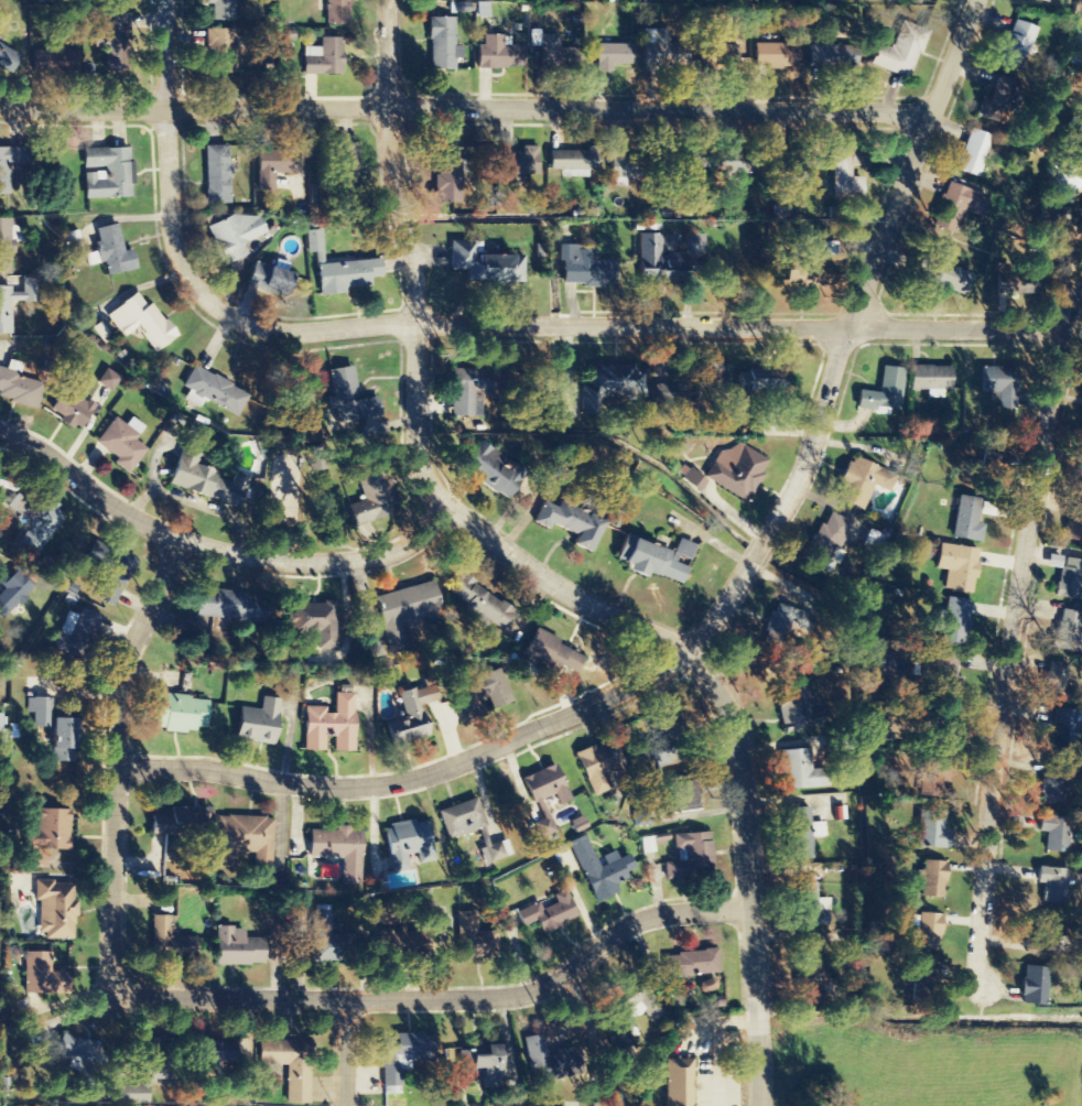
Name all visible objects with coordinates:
building: (1043, 0)
building: (221, 9)
building: (337, 12)
building: (117, 32)
building: (443, 44)
building: (1016, 46)
building: (664, 50)
building: (727, 50)
building: (221, 51)
building: (900, 51)
building: (499, 53)
building: (556, 54)
building: (614, 56)
building: (777, 56)
building: (324, 57)
building: (832, 57)
building: (8, 59)
building: (55, 61)
building: (996, 101)
road: (464, 108)
building: (1076, 132)
building: (974, 153)
building: (574, 162)
building: (521, 163)
building: (737, 163)
building: (10, 165)
building: (630, 166)
building: (273, 167)
building: (345, 167)
building: (447, 172)
building: (107, 173)
building: (217, 175)
building: (1067, 183)
building: (957, 206)
building: (1053, 223)
building: (235, 235)
building: (315, 245)
building: (6, 247)
building: (111, 252)
building: (670, 257)
building: (485, 265)
building: (584, 268)
building: (346, 275)
building: (949, 279)
building: (269, 280)
building: (1016, 286)
building: (17, 301)
building: (141, 322)
road: (479, 323)
building: (711, 377)
building: (107, 380)
building: (930, 380)
building: (759, 384)
building: (998, 384)
building: (608, 387)
building: (214, 392)
building: (465, 393)
building: (667, 394)
building: (348, 403)
building: (71, 405)
building: (122, 443)
building: (489, 470)
building: (737, 471)
building: (989, 473)
building: (691, 475)
building: (204, 479)
building: (861, 482)
building: (368, 494)
building: (967, 520)
building: (569, 523)
building: (35, 525)
building: (1074, 525)
building: (825, 541)
road: (218, 549)
building: (650, 562)
building: (957, 567)
building: (115, 575)
road: (541, 577)
building: (1071, 581)
building: (13, 593)
building: (484, 604)
building: (407, 605)
road: (723, 608)
building: (317, 622)
building: (954, 622)
building: (86, 627)
building: (782, 628)
building: (1068, 630)
road: (1010, 643)
building: (552, 653)
building: (944, 672)
building: (1054, 681)
building: (480, 695)
building: (797, 708)
building: (180, 714)
building: (408, 722)
building: (257, 723)
building: (663, 724)
building: (329, 725)
building: (1065, 727)
building: (2, 729)
building: (53, 729)
road: (116, 760)
building: (595, 767)
building: (1053, 783)
building: (545, 787)
building: (681, 796)
building: (463, 818)
building: (177, 822)
building: (48, 831)
building: (932, 831)
building: (1054, 833)
building: (799, 834)
building: (249, 844)
building: (408, 845)
building: (337, 850)
building: (689, 856)
building: (599, 869)
building: (932, 880)
building: (1052, 886)
building: (813, 907)
building: (56, 910)
building: (547, 914)
building: (930, 932)
building: (322, 934)
building: (472, 940)
building: (1042, 940)
building: (169, 942)
building: (416, 943)
building: (237, 948)
building: (691, 964)
building: (923, 974)
building: (43, 976)
building: (812, 986)
building: (1034, 987)
road: (442, 997)
building: (74, 1051)
building: (214, 1051)
road: (344, 1052)
building: (539, 1056)
building: (401, 1058)
building: (480, 1065)
building: (290, 1066)
building: (678, 1083)

